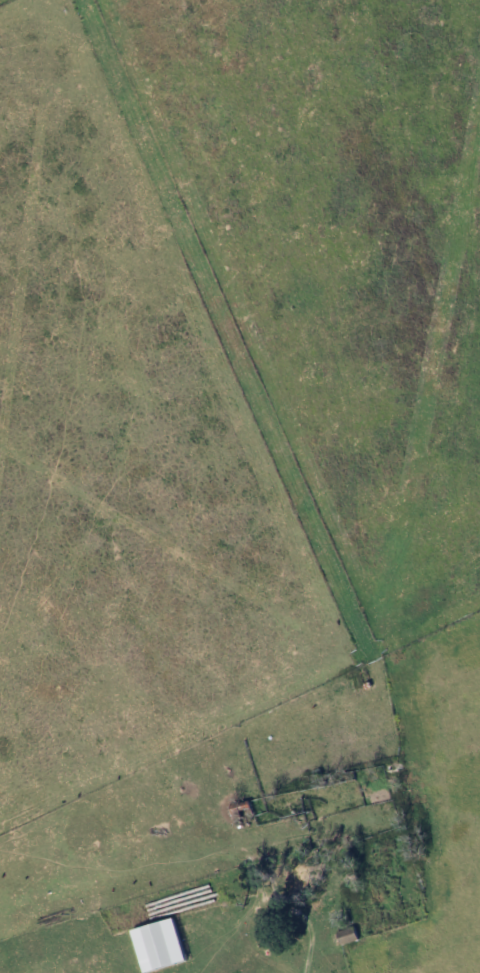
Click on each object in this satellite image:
building: (393, 767)
building: (346, 935)
road: (313, 942)
building: (159, 945)

